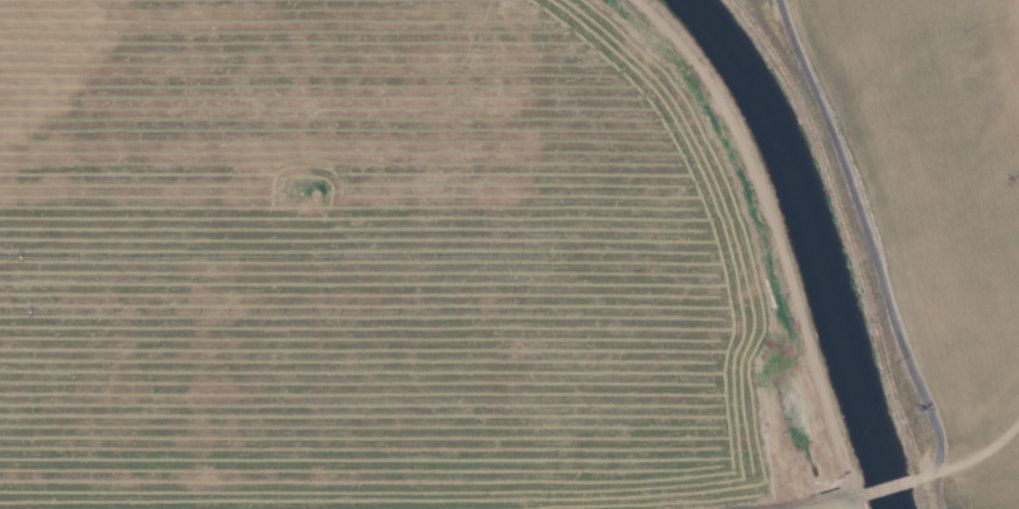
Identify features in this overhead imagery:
road: (760, 232)
crop: (509, 254)
road: (938, 470)
road: (824, 505)
road: (849, 505)

